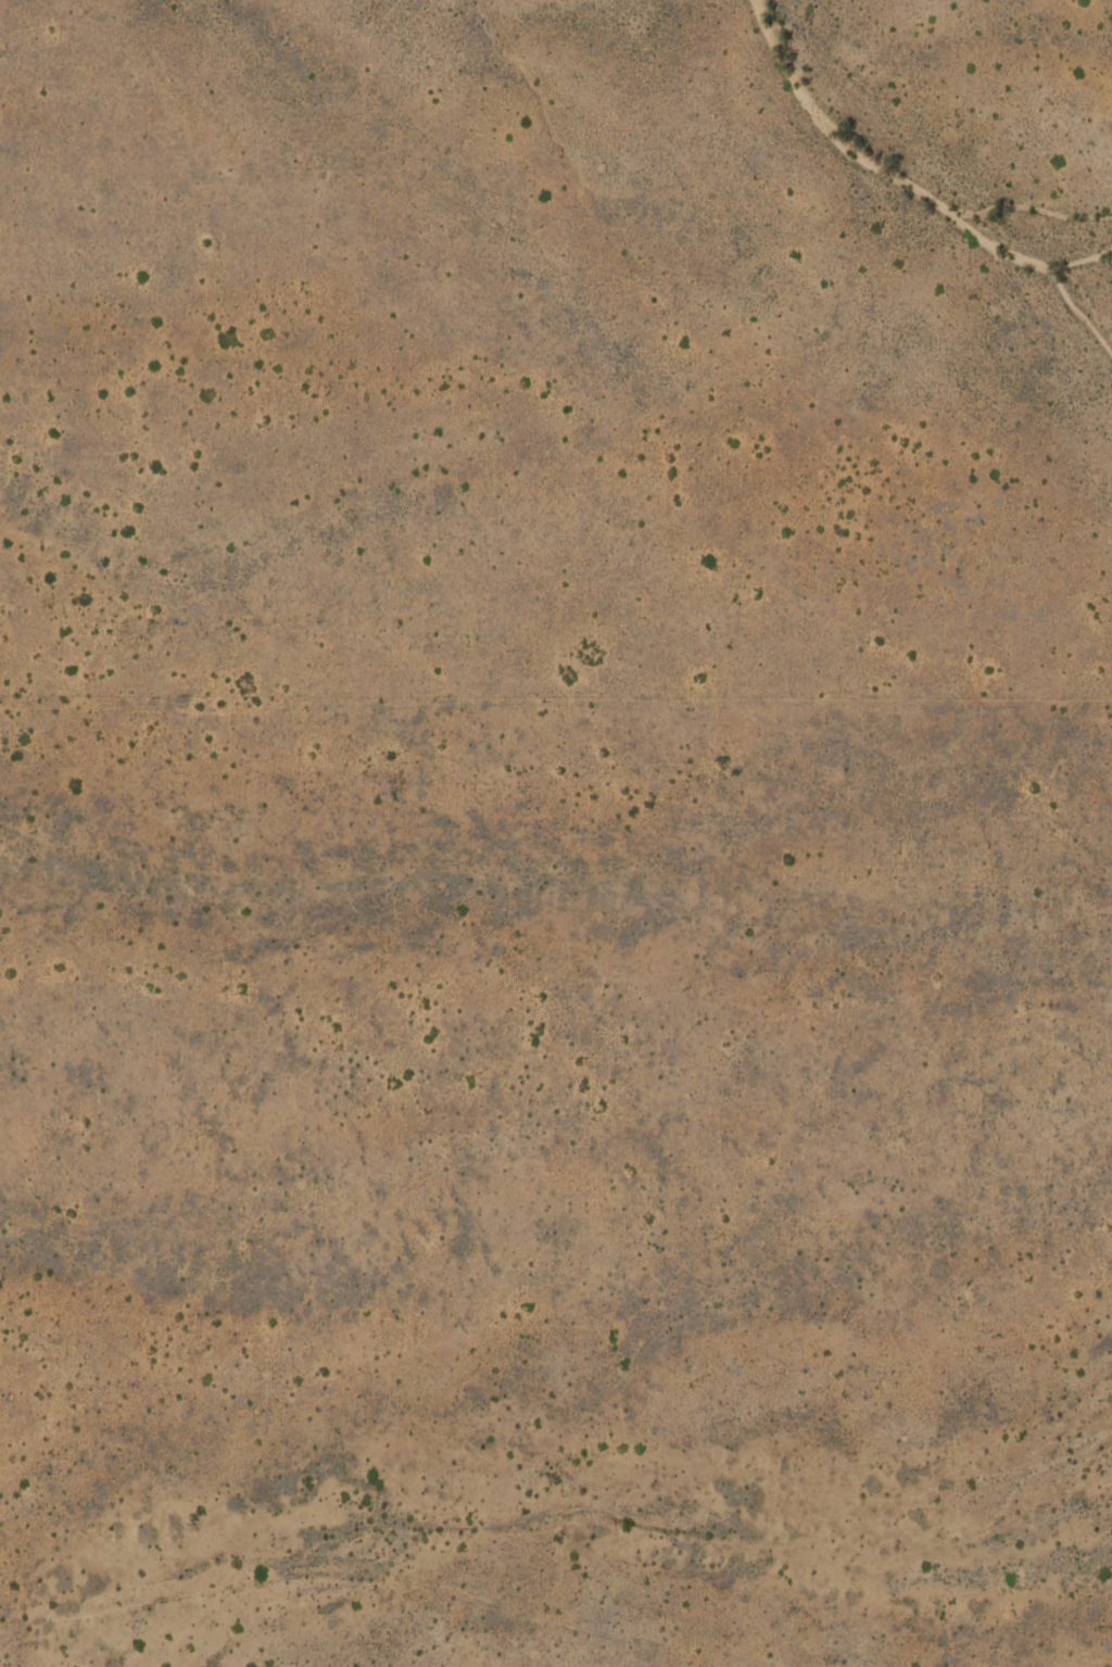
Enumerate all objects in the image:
road: (319, 1525)

